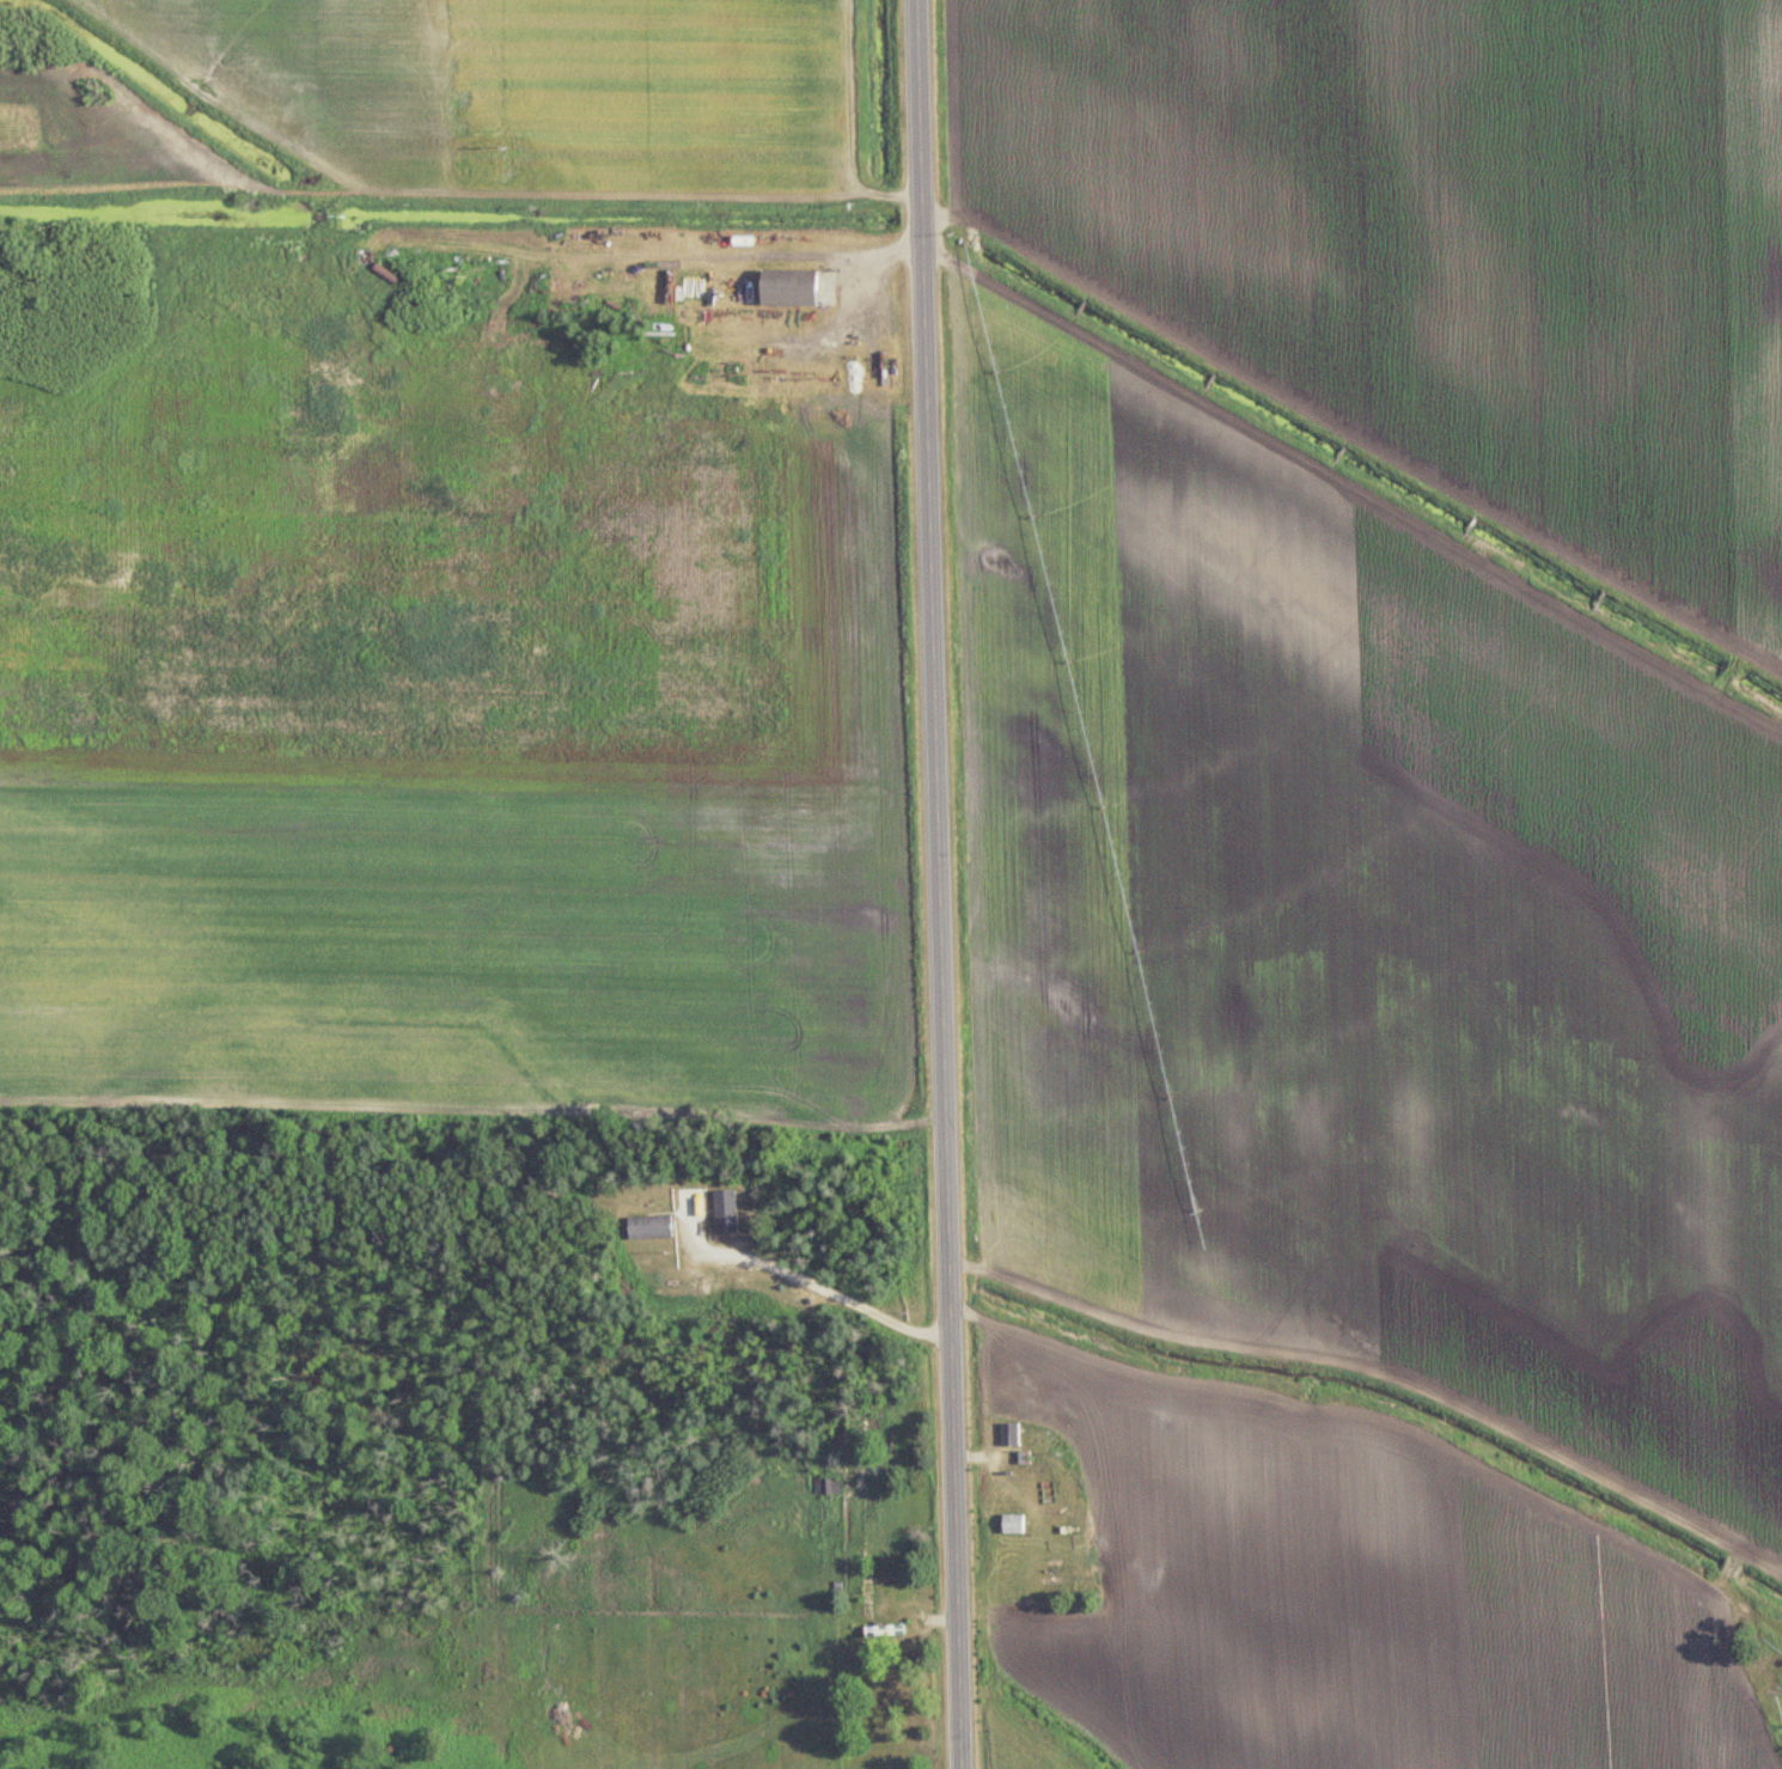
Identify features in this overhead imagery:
building: (788, 289)
road: (940, 884)
building: (725, 1203)
building: (649, 1227)
road: (800, 1280)
building: (1011, 1434)
building: (871, 1469)
building: (828, 1487)
building: (1013, 1523)
building: (885, 1630)

